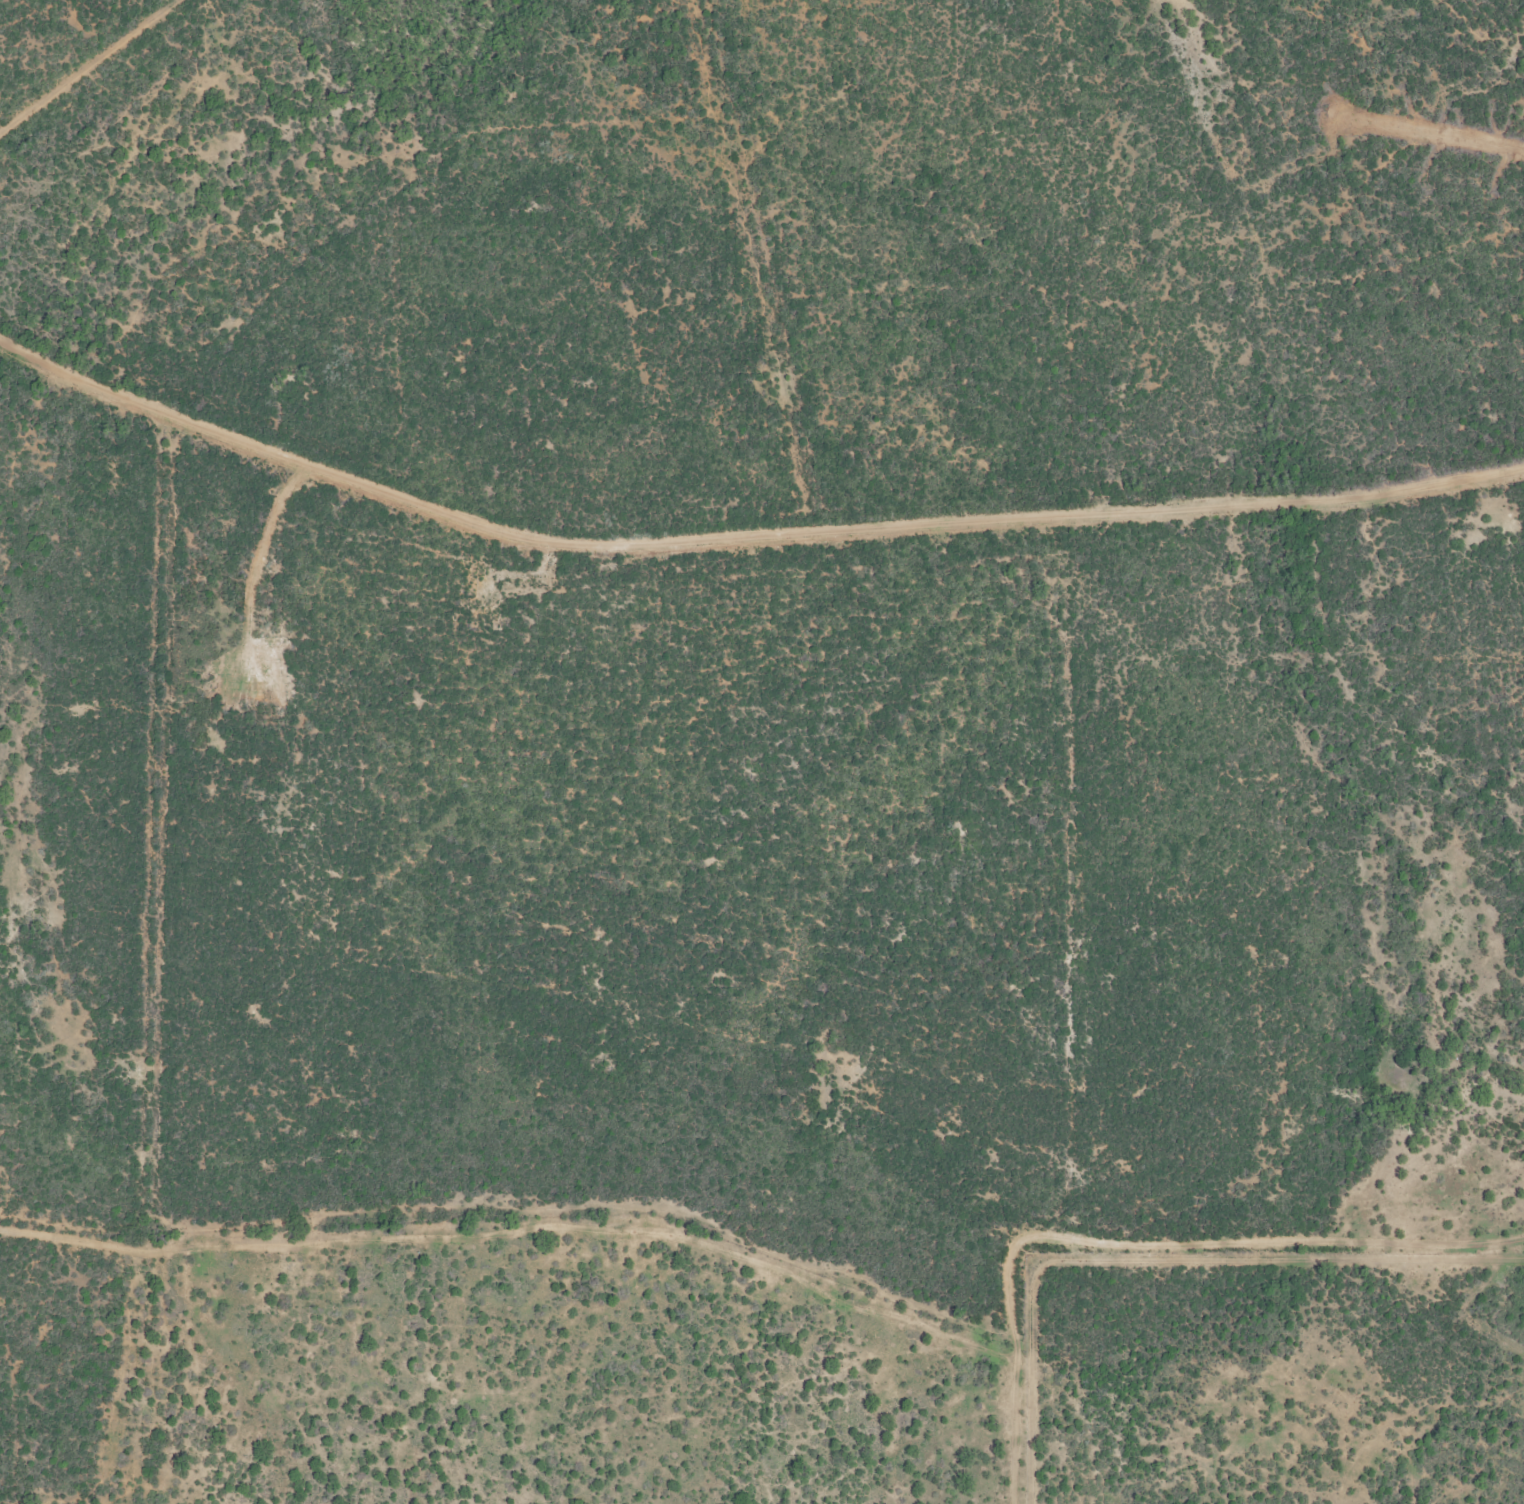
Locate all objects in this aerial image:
road: (102, 74)
road: (744, 537)

